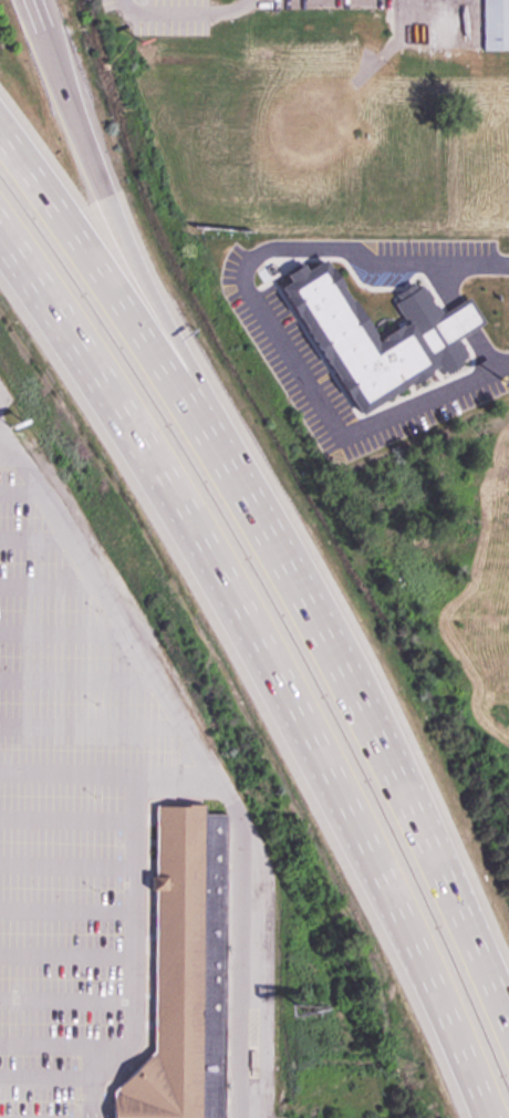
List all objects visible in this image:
road: (184, 14)
road: (38, 17)
parking lot: (163, 17)
building: (496, 23)
building: (367, 30)
road: (108, 207)
parking lot: (436, 247)
building: (460, 315)
road: (266, 317)
road: (464, 318)
parking lot: (271, 330)
building: (368, 334)
parking lot: (8, 411)
road: (18, 491)
road: (31, 537)
road: (285, 541)
road: (45, 582)
road: (61, 632)
road: (267, 666)
road: (75, 679)
road: (90, 726)
road: (199, 757)
road: (105, 775)
parking lot: (71, 797)
road: (69, 816)
road: (69, 863)
road: (69, 910)
road: (136, 954)
road: (67, 955)
building: (183, 974)
road: (67, 1006)
road: (63, 1045)
road: (49, 1077)
parking lot: (258, 1117)

